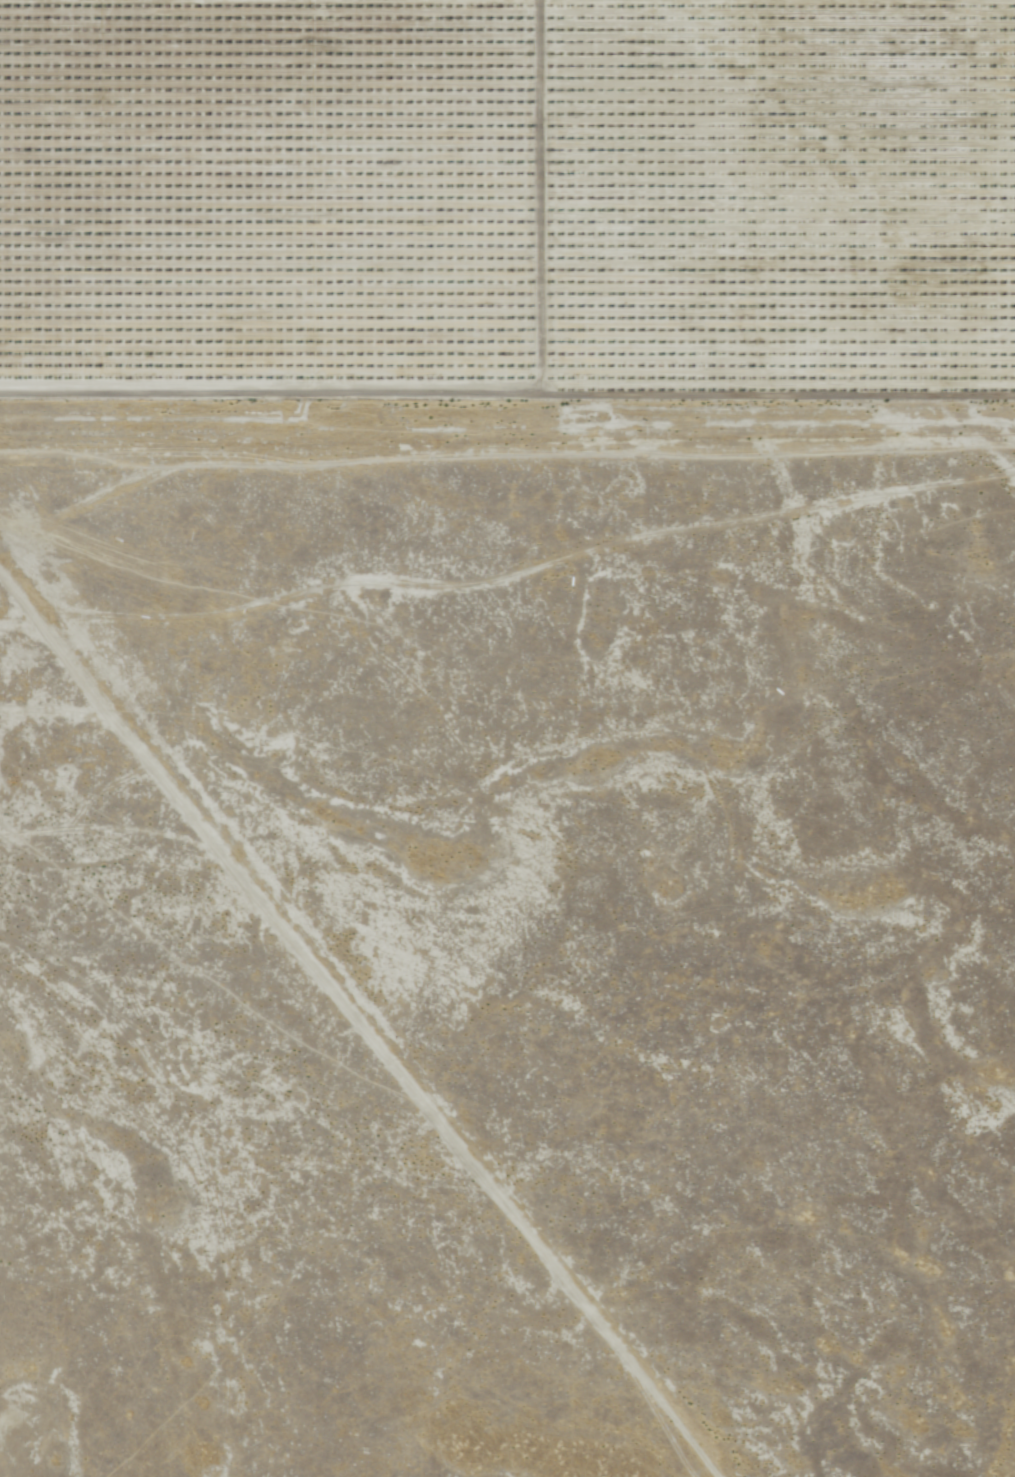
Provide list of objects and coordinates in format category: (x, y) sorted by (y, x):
crop: (194, 176)

